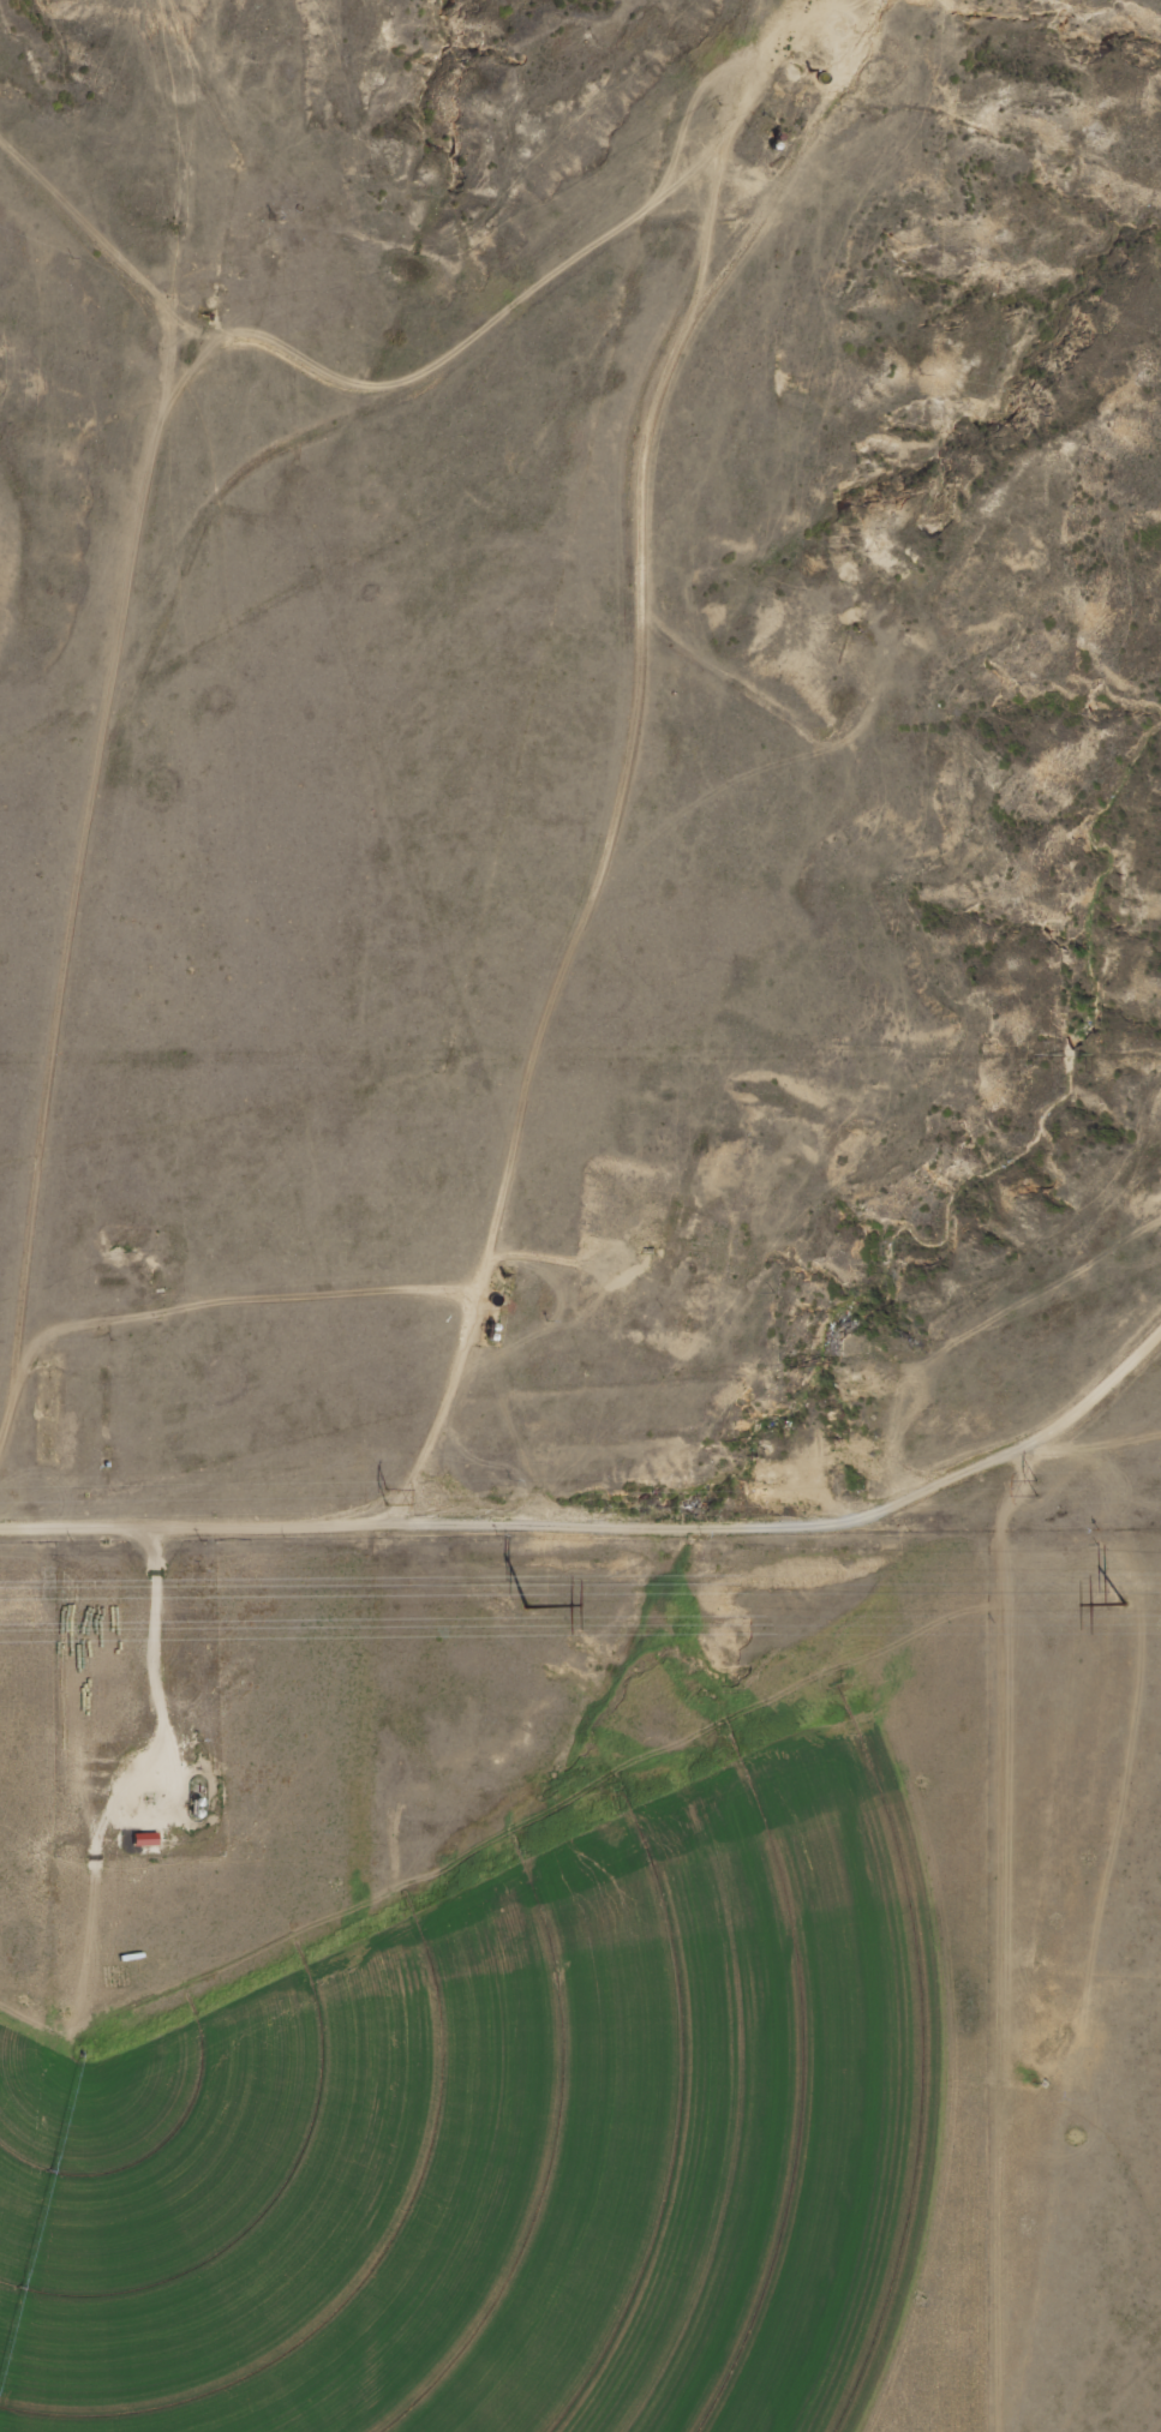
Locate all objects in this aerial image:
power tower: (1036, 1487)
road: (600, 1492)
power tower: (389, 1498)
power tower: (1126, 1604)
power tower: (525, 1606)

